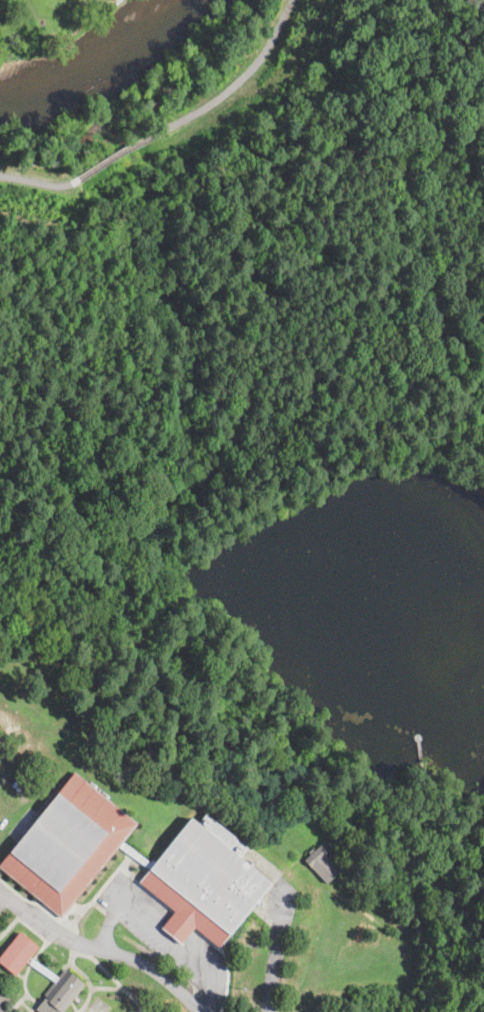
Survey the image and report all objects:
river: (98, 58)
road: (229, 87)
road: (123, 153)
park: (193, 174)
road: (54, 177)
building: (56, 655)
building: (120, 735)
building: (55, 861)
building: (321, 864)
road: (163, 934)
road: (101, 951)
road: (276, 962)
building: (46, 972)
building: (93, 1010)

